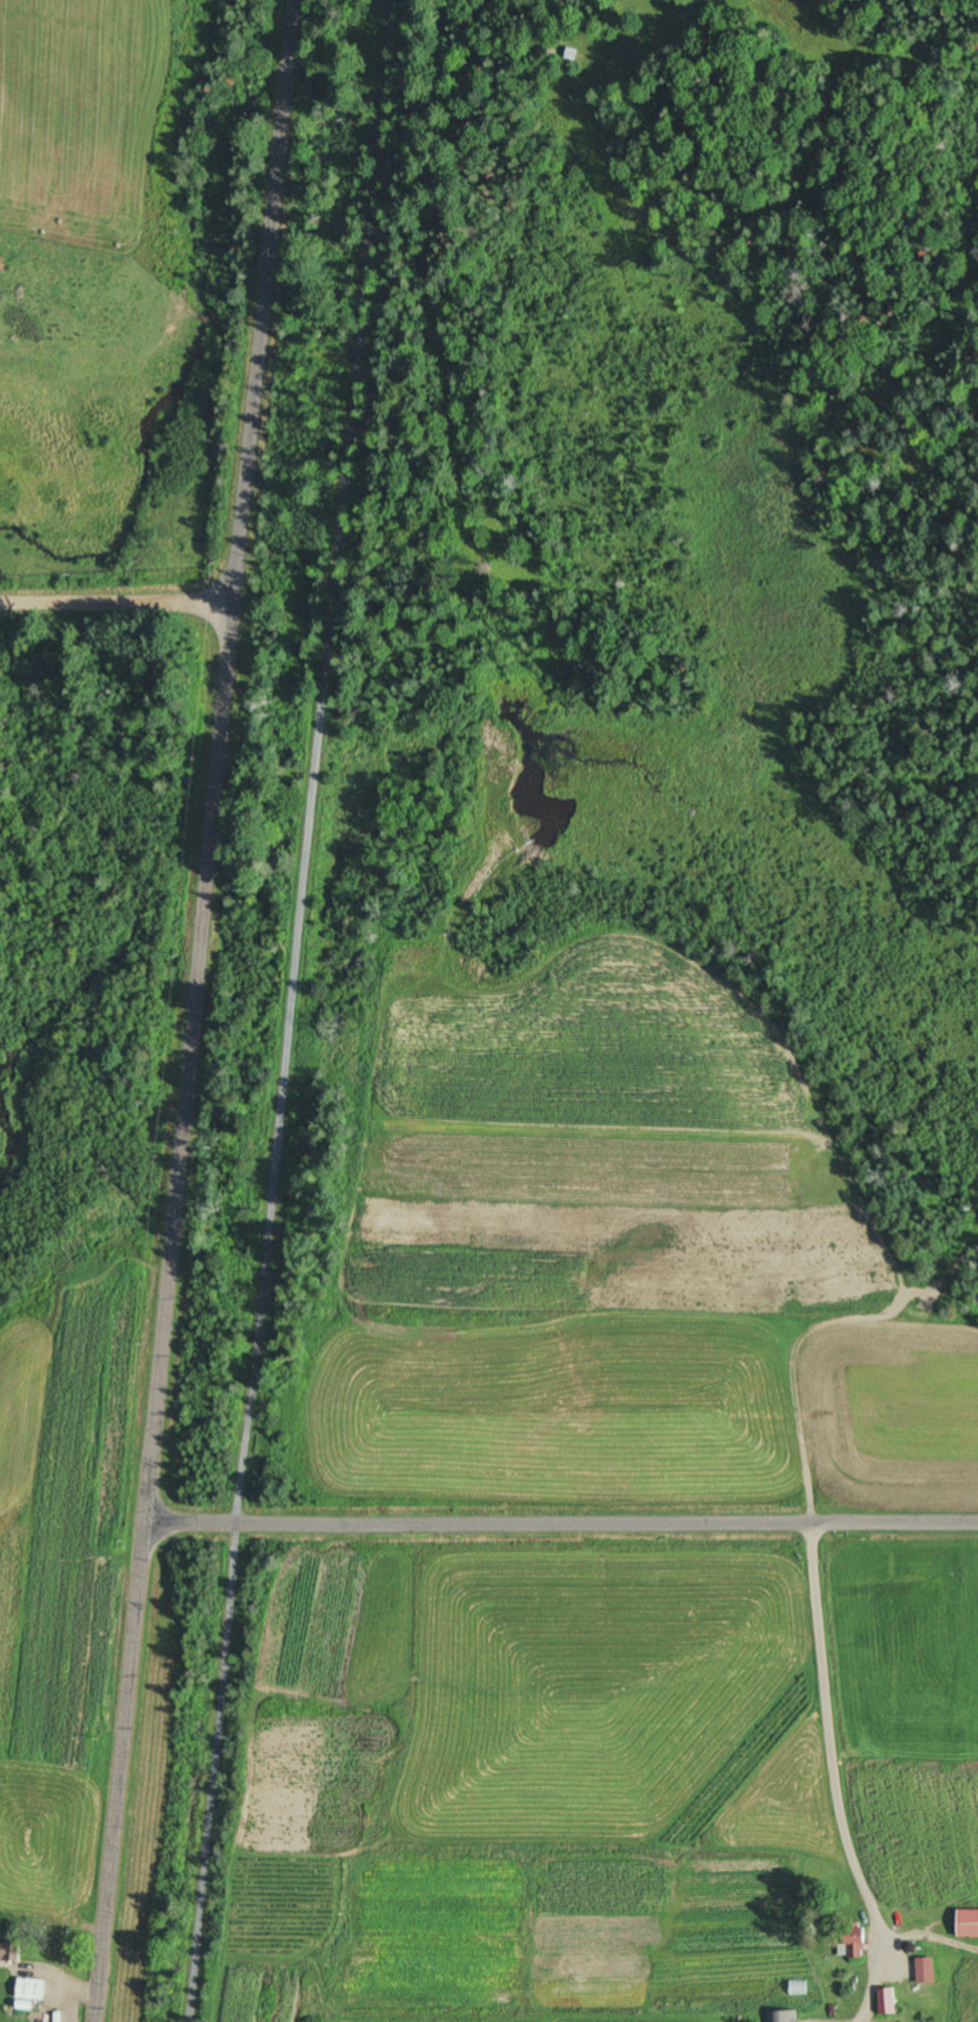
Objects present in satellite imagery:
building: (568, 54)
road: (114, 601)
road: (287, 1010)
road: (202, 1011)
road: (563, 1535)
building: (964, 1923)
building: (849, 1941)
building: (12, 1951)
building: (921, 1970)
building: (794, 1988)
building: (36, 1990)
building: (883, 2001)
building: (781, 2016)

